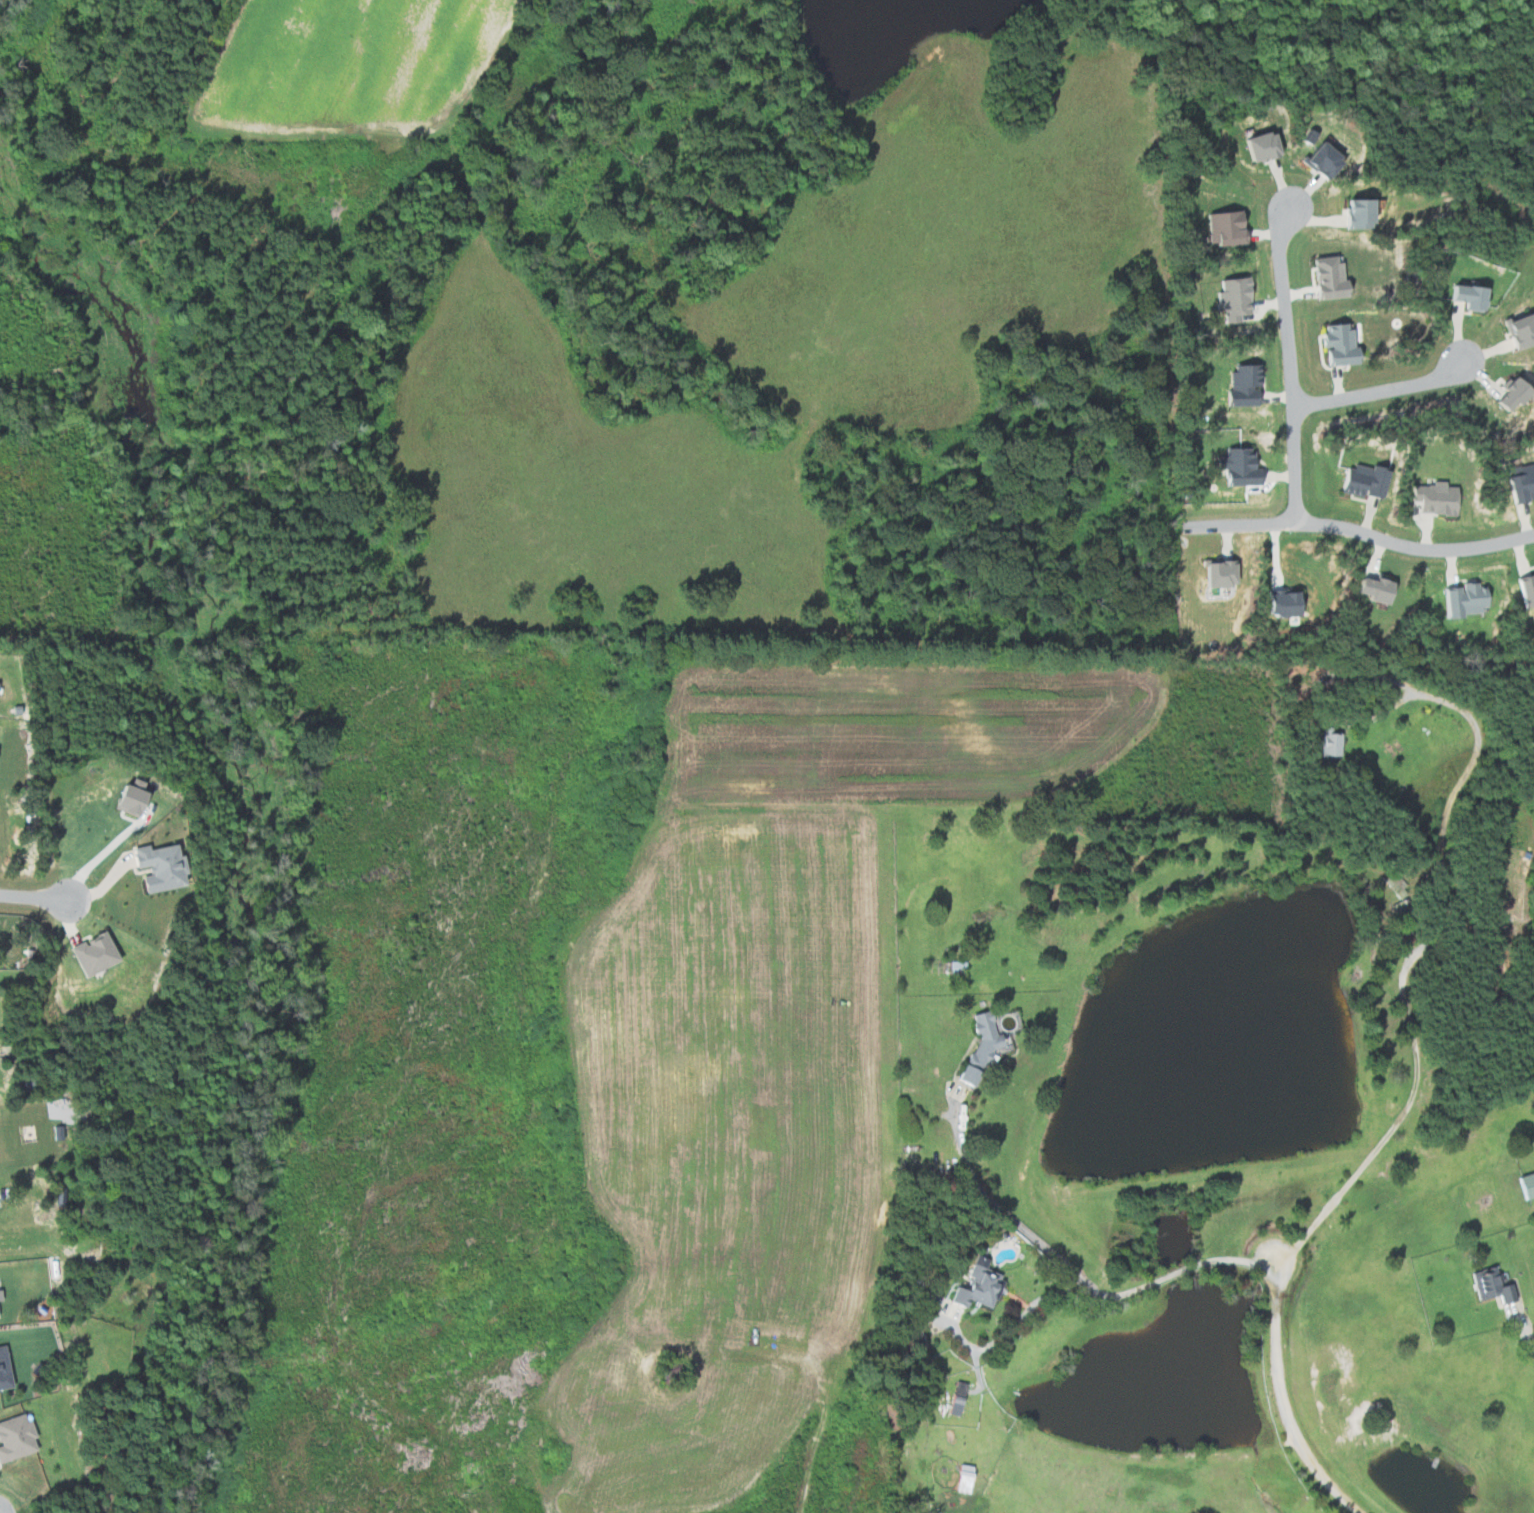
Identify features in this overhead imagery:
building: (1255, 147)
building: (1316, 160)
building: (1357, 214)
building: (1222, 229)
building: (1326, 279)
building: (1463, 297)
building: (1232, 299)
building: (1517, 330)
building: (1336, 345)
road: (1278, 362)
road: (1365, 385)
building: (1240, 387)
building: (1506, 394)
building: (1235, 469)
building: (1358, 482)
building: (1519, 483)
building: (1433, 498)
road: (1354, 531)
building: (1217, 574)
building: (1523, 589)
building: (1371, 591)
building: (1460, 599)
building: (1279, 605)
building: (1327, 742)
building: (137, 800)
road: (100, 855)
building: (167, 866)
road: (34, 895)
building: (101, 953)
building: (986, 1049)
road: (1406, 1111)
building: (1525, 1185)
road: (1073, 1271)
building: (1491, 1286)
building: (984, 1287)
building: (1, 1308)
road: (1024, 1314)
road: (1522, 1327)
building: (7, 1369)
building: (961, 1399)
road: (1280, 1399)
building: (19, 1438)

